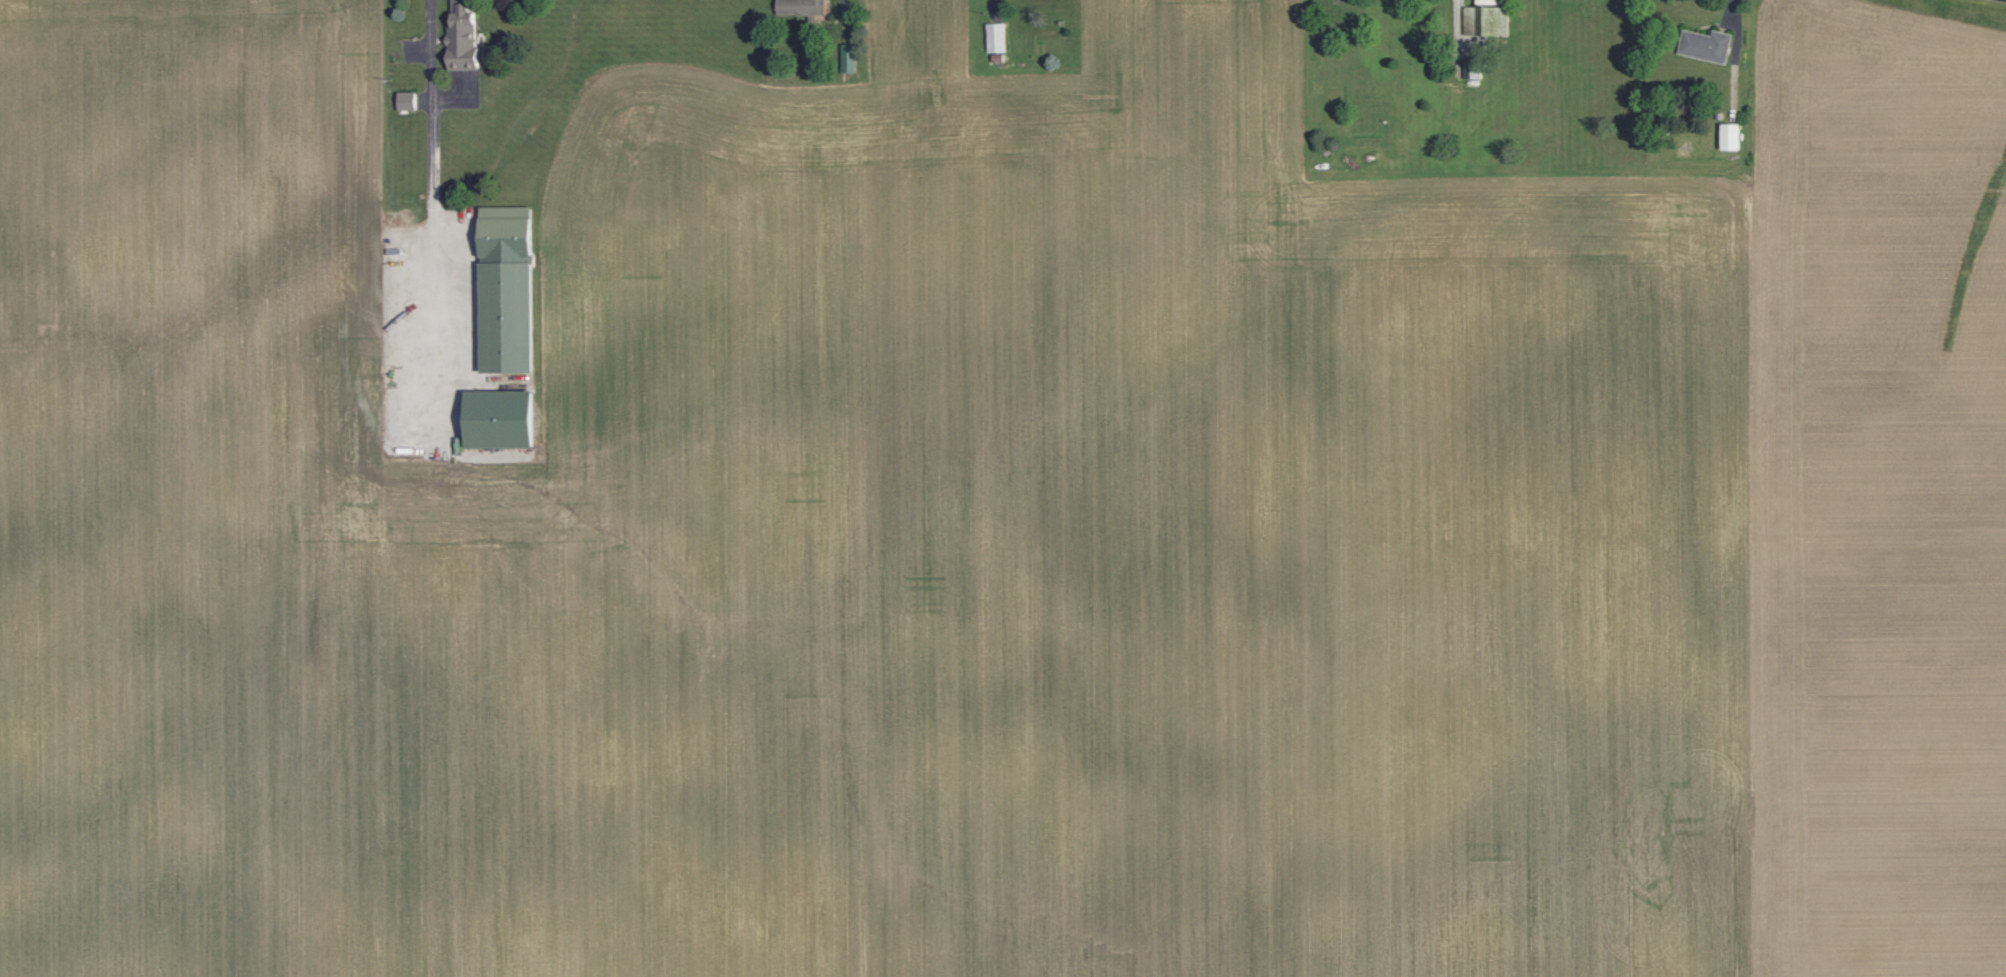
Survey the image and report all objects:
building: (800, 7)
building: (1474, 20)
building: (461, 37)
building: (996, 37)
building: (1705, 45)
building: (848, 58)
building: (405, 100)
building: (1730, 136)
building: (505, 288)
building: (498, 417)

